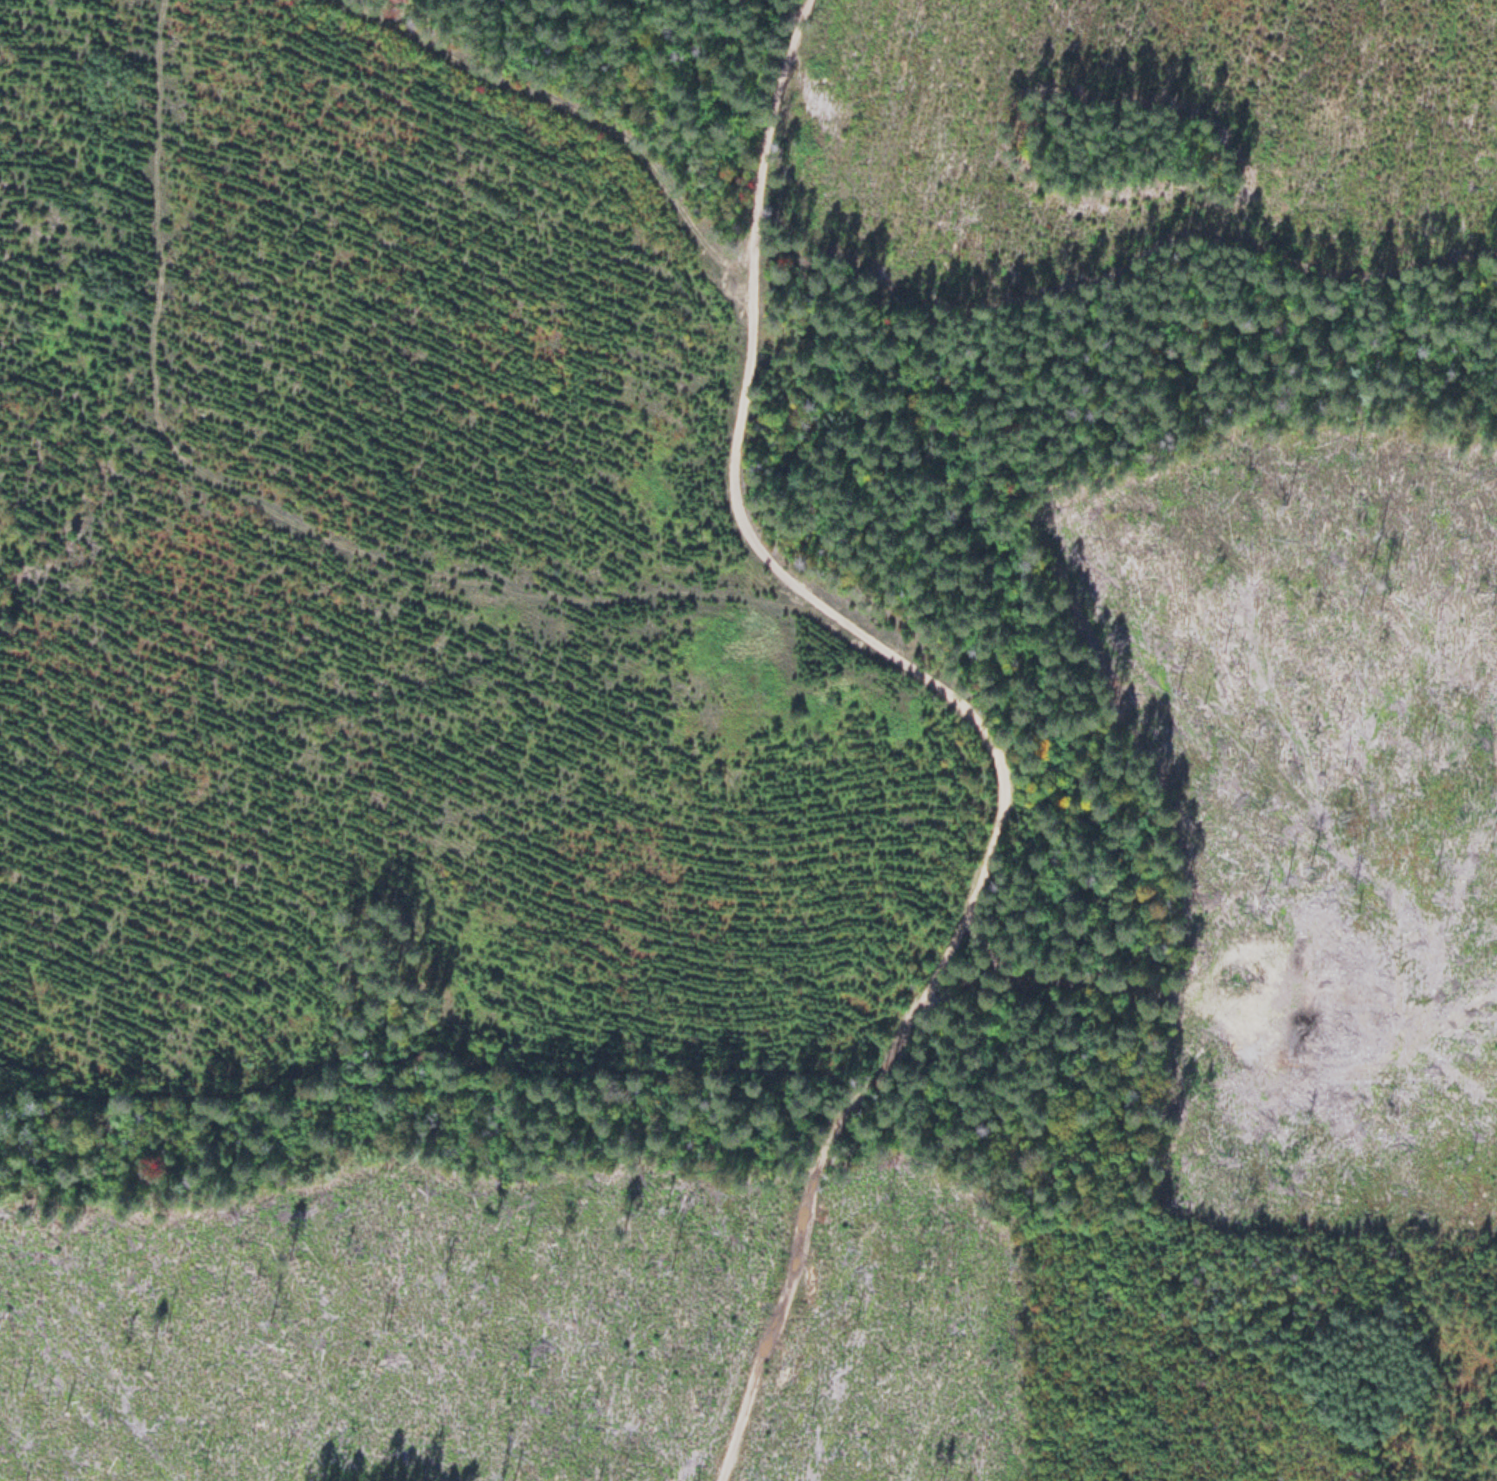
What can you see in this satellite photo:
road: (788, 14)
road: (574, 109)
road: (272, 509)
road: (966, 714)

